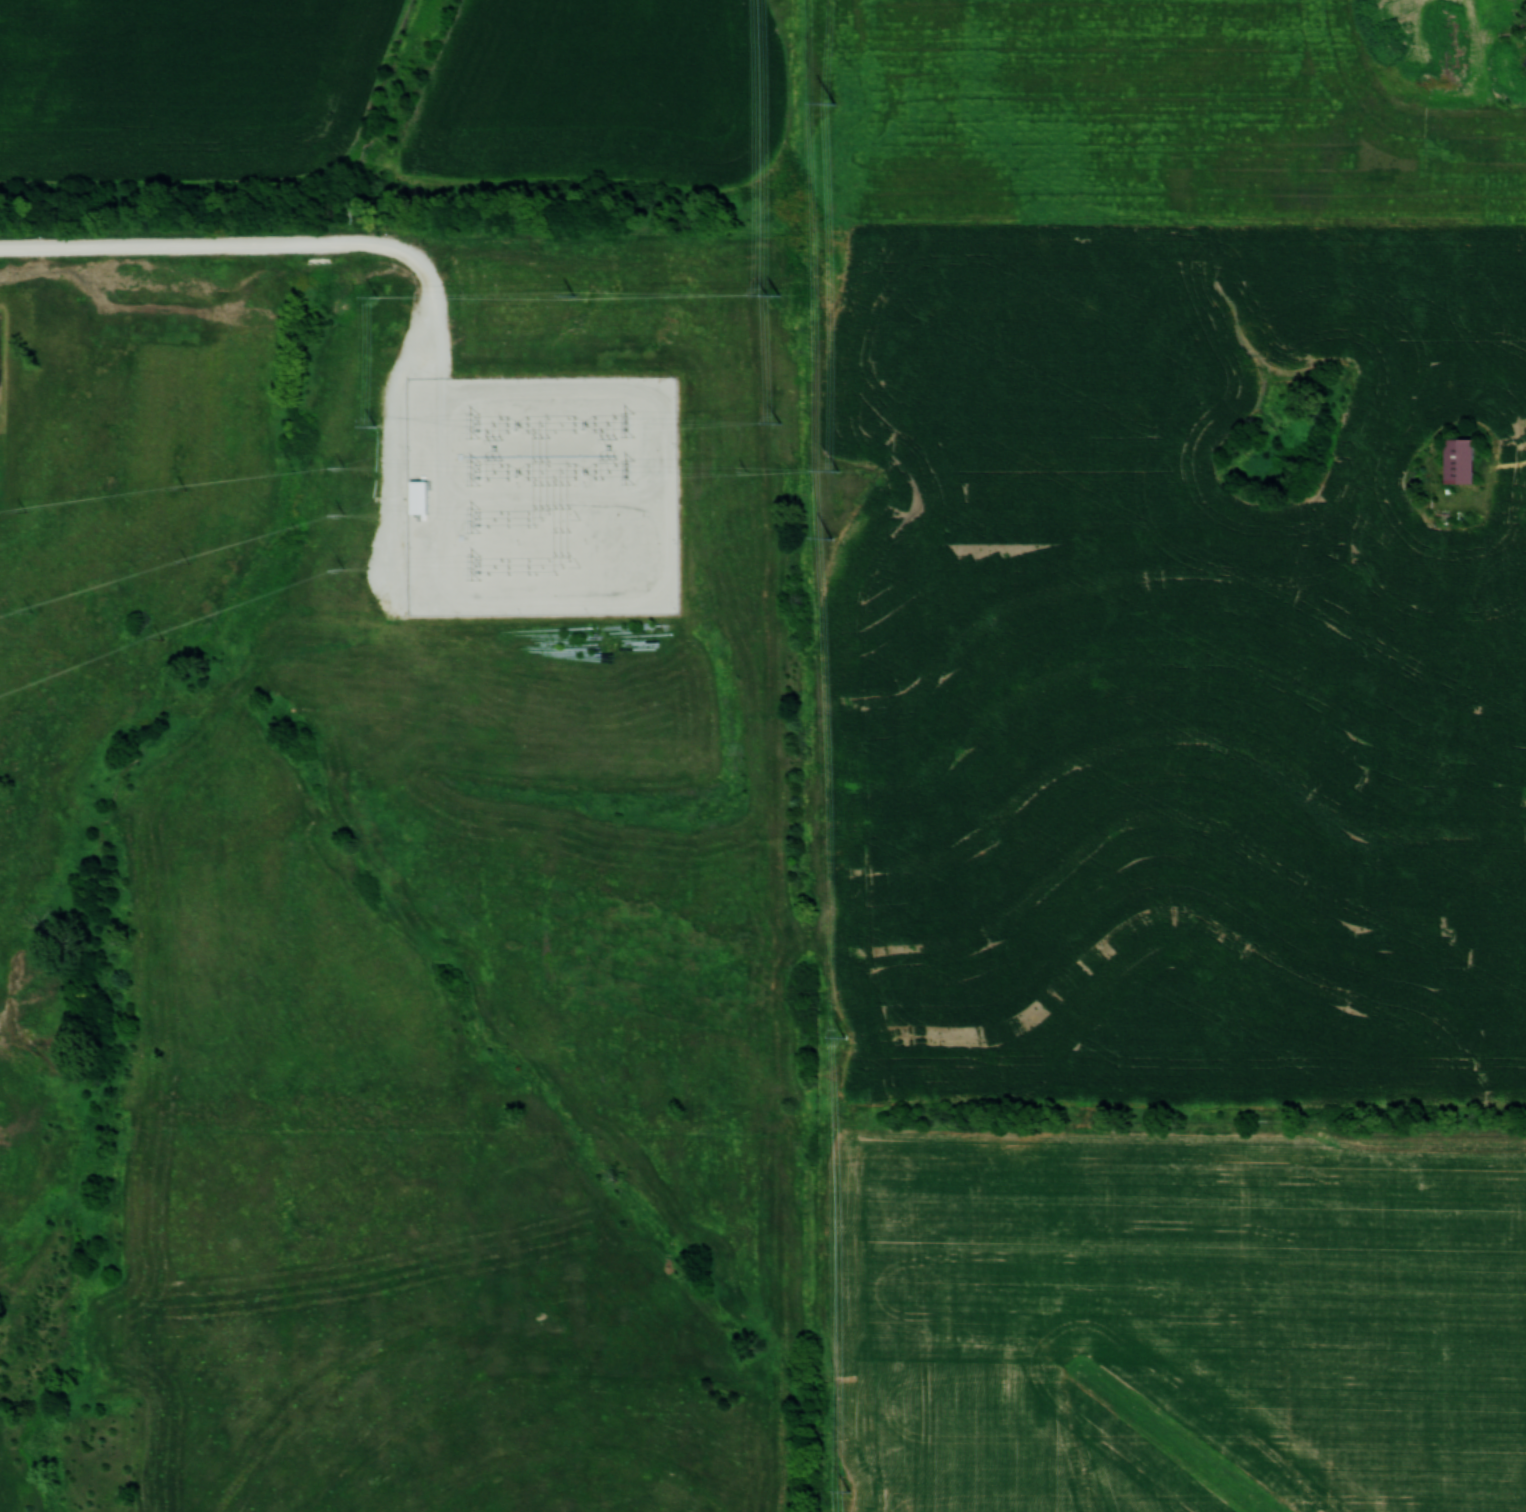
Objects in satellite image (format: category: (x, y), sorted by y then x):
power tower: (833, 103)
road: (271, 243)
power tower: (765, 293)
power tower: (777, 293)
power tower: (574, 295)
power tower: (376, 296)
power tower: (778, 422)
power tower: (628, 423)
power tower: (375, 425)
power tower: (473, 425)
road: (393, 446)
building: (1459, 460)
power tower: (628, 470)
power tower: (837, 470)
power tower: (473, 471)
power substation: (541, 495)
building: (417, 496)
power tower: (473, 519)
power tower: (831, 537)
power tower: (474, 566)
power tower: (843, 1037)
power tower: (847, 1490)

